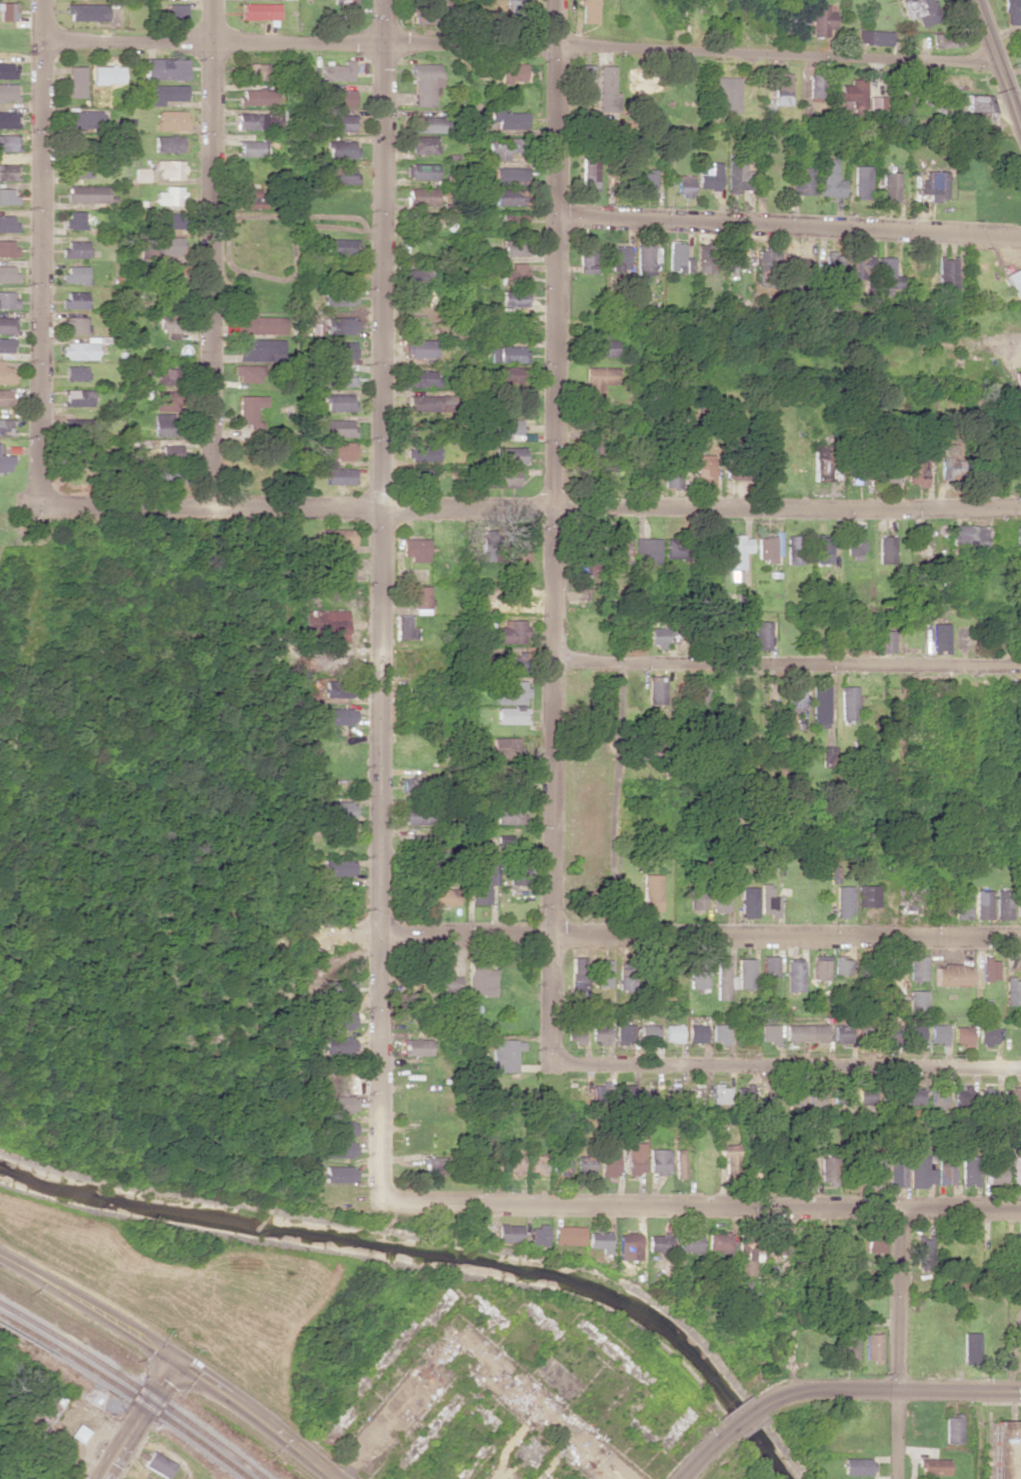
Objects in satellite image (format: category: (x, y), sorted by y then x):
building: (345, 2)
building: (7, 11)
building: (260, 11)
building: (588, 11)
building: (917, 11)
building: (87, 12)
building: (1012, 12)
building: (176, 13)
building: (431, 14)
building: (795, 18)
building: (821, 20)
building: (873, 37)
building: (945, 40)
road: (517, 43)
building: (166, 68)
building: (6, 70)
building: (253, 71)
building: (338, 71)
road: (996, 71)
building: (512, 73)
building: (107, 74)
building: (584, 78)
building: (76, 81)
building: (424, 83)
building: (815, 85)
building: (605, 86)
building: (782, 89)
building: (7, 92)
building: (724, 92)
building: (166, 93)
building: (853, 96)
building: (257, 97)
building: (337, 98)
building: (979, 102)
building: (876, 103)
building: (7, 119)
building: (83, 119)
building: (508, 119)
building: (990, 119)
building: (171, 120)
building: (251, 121)
building: (337, 122)
building: (426, 124)
building: (6, 142)
building: (170, 143)
building: (422, 144)
building: (79, 147)
building: (250, 148)
building: (341, 148)
building: (500, 148)
building: (78, 168)
building: (169, 169)
building: (421, 171)
building: (6, 172)
building: (738, 172)
building: (141, 174)
building: (340, 174)
building: (589, 174)
building: (509, 175)
building: (708, 175)
building: (829, 179)
building: (646, 181)
building: (801, 181)
building: (861, 182)
building: (934, 184)
building: (684, 185)
building: (889, 185)
building: (86, 193)
building: (169, 195)
building: (6, 196)
building: (421, 196)
building: (508, 196)
building: (253, 198)
building: (73, 219)
building: (165, 220)
building: (513, 222)
building: (6, 223)
building: (425, 223)
road: (790, 223)
building: (340, 247)
building: (7, 248)
building: (513, 248)
building: (74, 249)
road: (41, 251)
road: (213, 252)
building: (587, 255)
building: (616, 257)
building: (678, 257)
building: (705, 257)
building: (768, 258)
building: (645, 260)
building: (833, 261)
building: (798, 262)
building: (859, 267)
building: (162, 271)
building: (6, 273)
building: (886, 273)
building: (74, 274)
building: (514, 274)
building: (946, 274)
building: (415, 276)
building: (1015, 281)
building: (340, 296)
building: (514, 298)
building: (7, 299)
building: (73, 300)
building: (165, 323)
building: (6, 324)
building: (74, 324)
building: (260, 324)
building: (340, 324)
building: (5, 345)
building: (600, 345)
building: (421, 348)
building: (78, 349)
building: (259, 349)
building: (339, 350)
building: (506, 353)
building: (74, 372)
building: (248, 373)
building: (5, 374)
building: (511, 374)
building: (165, 376)
building: (1018, 377)
building: (420, 378)
building: (596, 380)
building: (77, 397)
building: (164, 400)
building: (339, 402)
building: (424, 402)
building: (250, 408)
building: (162, 423)
building: (4, 426)
building: (74, 426)
building: (336, 427)
building: (506, 429)
building: (340, 450)
building: (169, 451)
building: (423, 452)
building: (509, 455)
building: (823, 462)
building: (4, 463)
building: (704, 471)
building: (916, 471)
building: (885, 473)
building: (857, 474)
building: (339, 475)
building: (420, 475)
building: (507, 477)
building: (672, 478)
road: (530, 506)
road: (555, 531)
building: (969, 535)
building: (337, 537)
building: (1018, 539)
building: (854, 544)
building: (675, 548)
building: (823, 548)
building: (415, 549)
building: (487, 549)
building: (647, 549)
building: (766, 549)
building: (794, 549)
building: (885, 549)
building: (620, 550)
building: (736, 551)
building: (340, 568)
building: (420, 596)
road: (381, 598)
building: (742, 601)
building: (325, 625)
building: (404, 627)
building: (511, 632)
building: (759, 634)
building: (657, 636)
building: (939, 636)
building: (885, 640)
building: (506, 662)
road: (787, 662)
building: (337, 688)
building: (655, 689)
building: (511, 692)
building: (701, 693)
building: (796, 695)
building: (848, 703)
building: (820, 705)
building: (511, 715)
building: (339, 716)
road: (1003, 734)
building: (647, 743)
building: (504, 746)
building: (827, 756)
building: (512, 785)
building: (339, 810)
building: (507, 812)
building: (502, 840)
building: (422, 844)
building: (337, 867)
building: (516, 876)
building: (482, 883)
building: (650, 887)
building: (720, 894)
building: (866, 895)
building: (443, 897)
road: (883, 897)
building: (842, 900)
building: (747, 901)
building: (767, 901)
building: (940, 901)
building: (697, 902)
building: (961, 904)
building: (981, 904)
building: (1002, 906)
building: (1018, 906)
road: (667, 932)
building: (840, 965)
building: (768, 966)
building: (818, 967)
building: (915, 968)
building: (988, 969)
building: (576, 970)
building: (600, 973)
building: (744, 973)
building: (948, 975)
building: (442, 976)
building: (696, 976)
building: (792, 976)
building: (721, 977)
building: (624, 978)
building: (479, 981)
building: (337, 989)
building: (1011, 991)
building: (914, 1001)
building: (337, 1020)
building: (621, 1029)
building: (573, 1032)
building: (888, 1032)
building: (598, 1033)
building: (647, 1033)
building: (671, 1033)
building: (695, 1033)
building: (718, 1033)
building: (767, 1033)
building: (803, 1033)
building: (840, 1033)
building: (936, 1033)
building: (863, 1034)
building: (912, 1034)
building: (960, 1035)
building: (984, 1035)
building: (337, 1044)
building: (416, 1046)
building: (503, 1054)
road: (786, 1066)
building: (987, 1089)
building: (742, 1091)
building: (718, 1092)
building: (645, 1093)
building: (669, 1093)
building: (912, 1094)
building: (814, 1095)
building: (839, 1095)
building: (864, 1095)
building: (959, 1095)
building: (936, 1096)
building: (1008, 1096)
building: (338, 1103)
building: (336, 1128)
building: (337, 1149)
building: (728, 1151)
building: (633, 1157)
building: (606, 1160)
building: (657, 1160)
building: (534, 1163)
building: (558, 1163)
building: (433, 1164)
building: (485, 1164)
building: (510, 1164)
building: (583, 1165)
building: (677, 1165)
building: (801, 1170)
building: (870, 1170)
building: (943, 1170)
building: (968, 1170)
building: (826, 1171)
building: (895, 1171)
building: (918, 1171)
building: (1014, 1171)
building: (337, 1174)
building: (994, 1175)
road: (697, 1201)
building: (506, 1233)
building: (534, 1234)
building: (565, 1235)
building: (800, 1237)
building: (825, 1237)
building: (596, 1240)
building: (775, 1240)
building: (717, 1241)
building: (687, 1242)
building: (656, 1243)
building: (1015, 1245)
building: (627, 1246)
building: (921, 1251)
building: (743, 1261)
building: (539, 1319)
road: (1013, 1337)
road: (896, 1342)
building: (846, 1345)
road: (476, 1346)
building: (870, 1347)
building: (968, 1347)
traffic signals: (174, 1356)
road: (175, 1357)
road: (1015, 1368)
road: (1006, 1378)
railway: (134, 1388)
road: (891, 1389)
railway: (126, 1393)
building: (42, 1411)
road: (742, 1415)
road: (137, 1418)
building: (951, 1429)
building: (1006, 1449)
road: (700, 1455)
building: (157, 1464)
building: (854, 1466)
building: (931, 1466)

